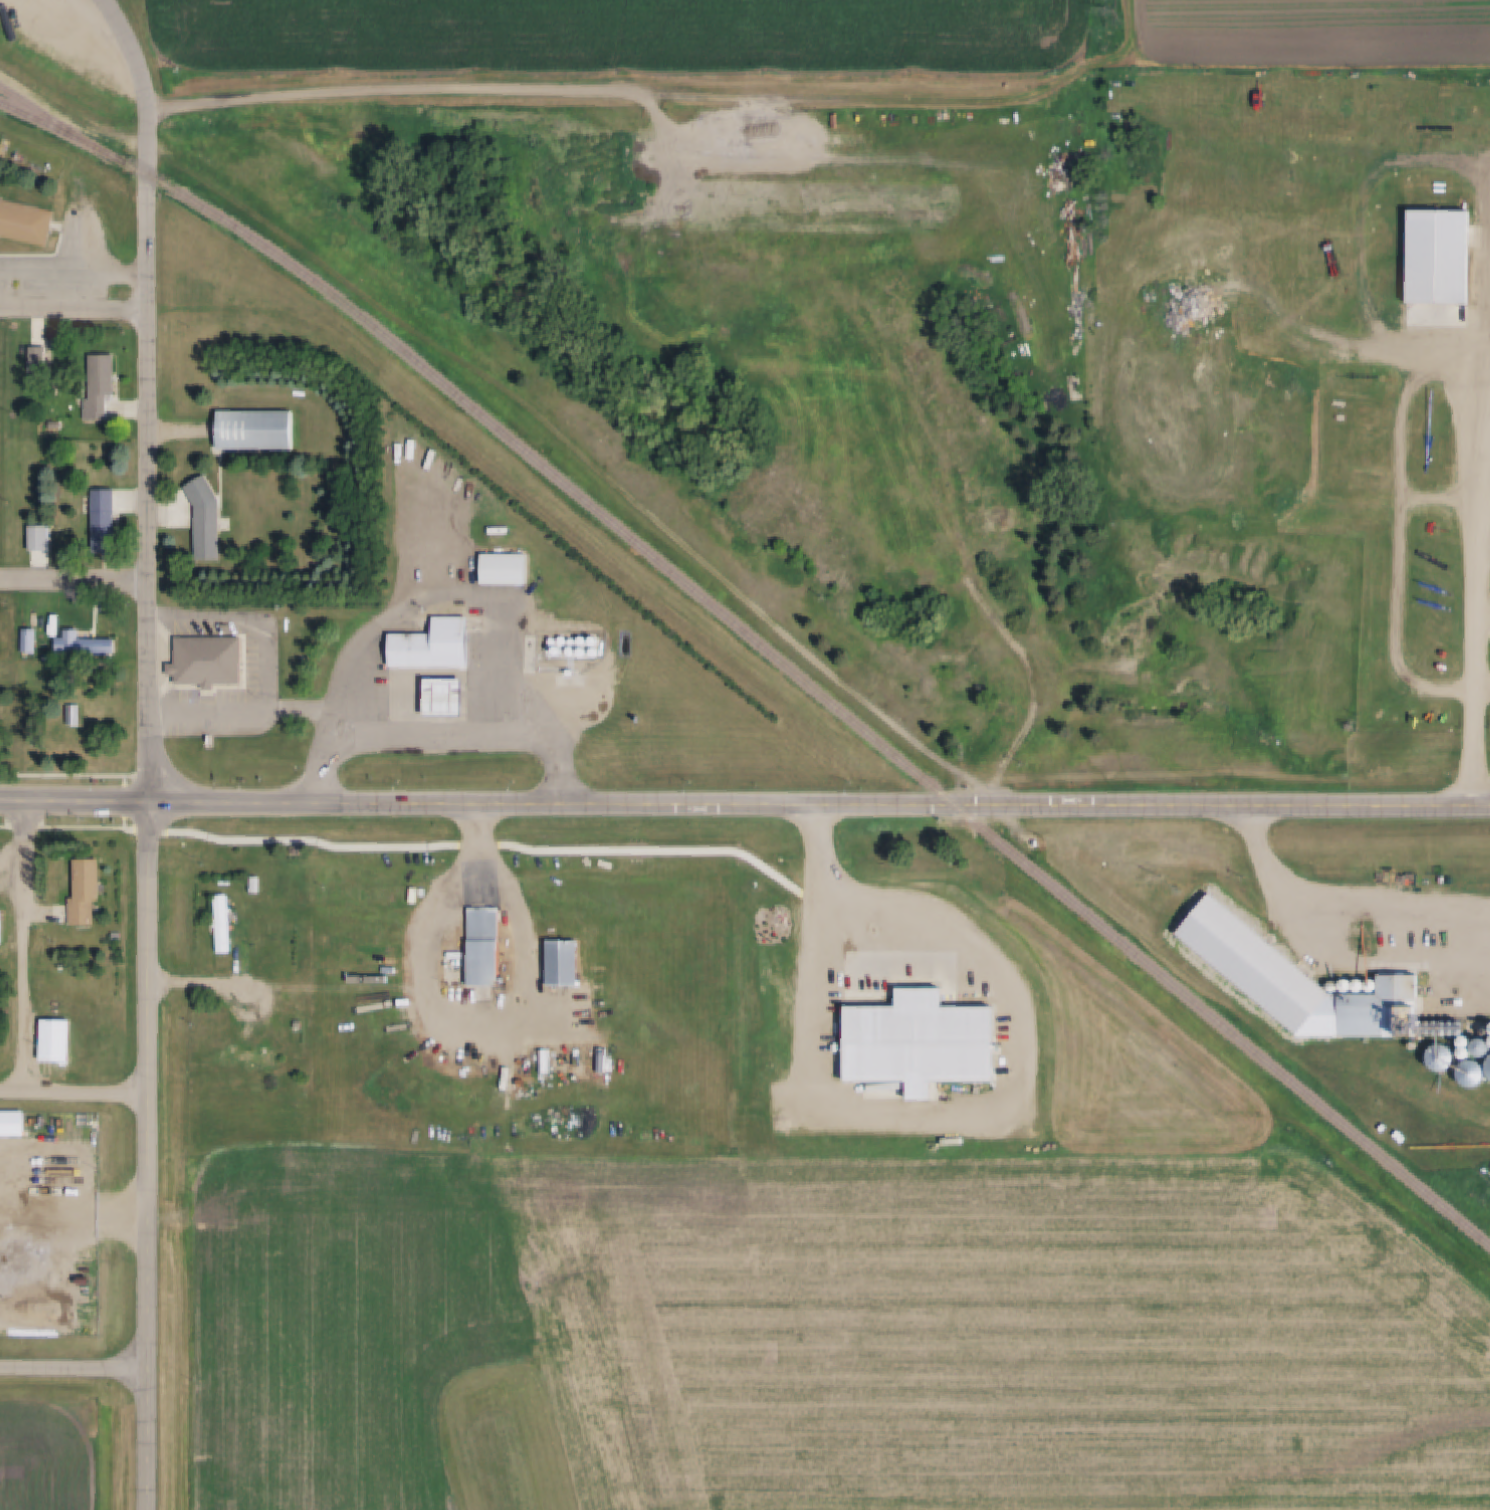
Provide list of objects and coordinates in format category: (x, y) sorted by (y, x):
road: (136, 52)
road: (432, 87)
railway: (50, 115)
road: (147, 145)
building: (24, 222)
building: (1439, 255)
road: (73, 305)
road: (876, 341)
road: (1323, 352)
building: (99, 385)
building: (258, 430)
road: (150, 491)
building: (205, 517)
building: (102, 519)
building: (37, 537)
road: (1406, 539)
building: (502, 568)
road: (75, 579)
road: (1480, 591)
road: (1485, 614)
road: (780, 627)
building: (564, 639)
storage tank: (564, 639)
building: (584, 640)
storage tank: (584, 640)
building: (597, 640)
storage tank: (597, 640)
building: (28, 641)
building: (554, 641)
storage tank: (554, 641)
building: (574, 641)
storage tank: (574, 641)
building: (82, 644)
building: (431, 644)
gas station: (431, 644)
railway: (762, 644)
building: (560, 650)
storage tank: (560, 650)
building: (573, 650)
storage tank: (573, 650)
building: (585, 650)
storage tank: (585, 650)
building: (597, 651)
storage tank: (597, 651)
building: (207, 661)
road: (1041, 690)
building: (441, 696)
building: (74, 714)
road: (448, 722)
road: (75, 803)
road: (665, 806)
road: (1335, 807)
building: (255, 883)
building: (84, 891)
building: (221, 921)
building: (1, 925)
road: (1330, 933)
building: (483, 945)
road: (24, 947)
road: (891, 950)
building: (560, 962)
building: (450, 972)
storage tank: (450, 972)
building: (462, 972)
storage tank: (462, 972)
building: (1294, 981)
building: (1329, 985)
silo: (1329, 985)
building: (1340, 985)
silo: (1340, 985)
building: (1353, 985)
silo: (1353, 985)
building: (1367, 985)
silo: (1367, 985)
building: (1418, 1024)
silo: (1418, 1024)
building: (1426, 1024)
silo: (1426, 1024)
building: (1433, 1024)
silo: (1433, 1024)
building: (1441, 1024)
silo: (1441, 1024)
building: (1449, 1024)
silo: (1449, 1024)
building: (1457, 1024)
silo: (1457, 1024)
building: (1479, 1030)
road: (500, 1031)
building: (1418, 1031)
silo: (1418, 1031)
building: (1433, 1031)
silo: (1433, 1031)
building: (1441, 1031)
silo: (1441, 1031)
building: (1449, 1031)
silo: (1449, 1031)
building: (1457, 1031)
silo: (1457, 1031)
building: (1426, 1032)
silo: (1426, 1032)
building: (53, 1038)
building: (100, 1038)
building: (251, 1056)
building: (1444, 1058)
silo: (1444, 1058)
building: (1489, 1066)
silo: (1489, 1066)
building: (1406, 1070)
silo: (1406, 1070)
building: (1473, 1074)
silo: (1473, 1074)
road: (152, 1087)
road: (75, 1093)
building: (11, 1122)
building: (93, 1125)
airport: (399, 1338)
road: (75, 1368)
road: (150, 1440)
airport taxiway: (485, 1441)
airport runway: (508, 1480)

